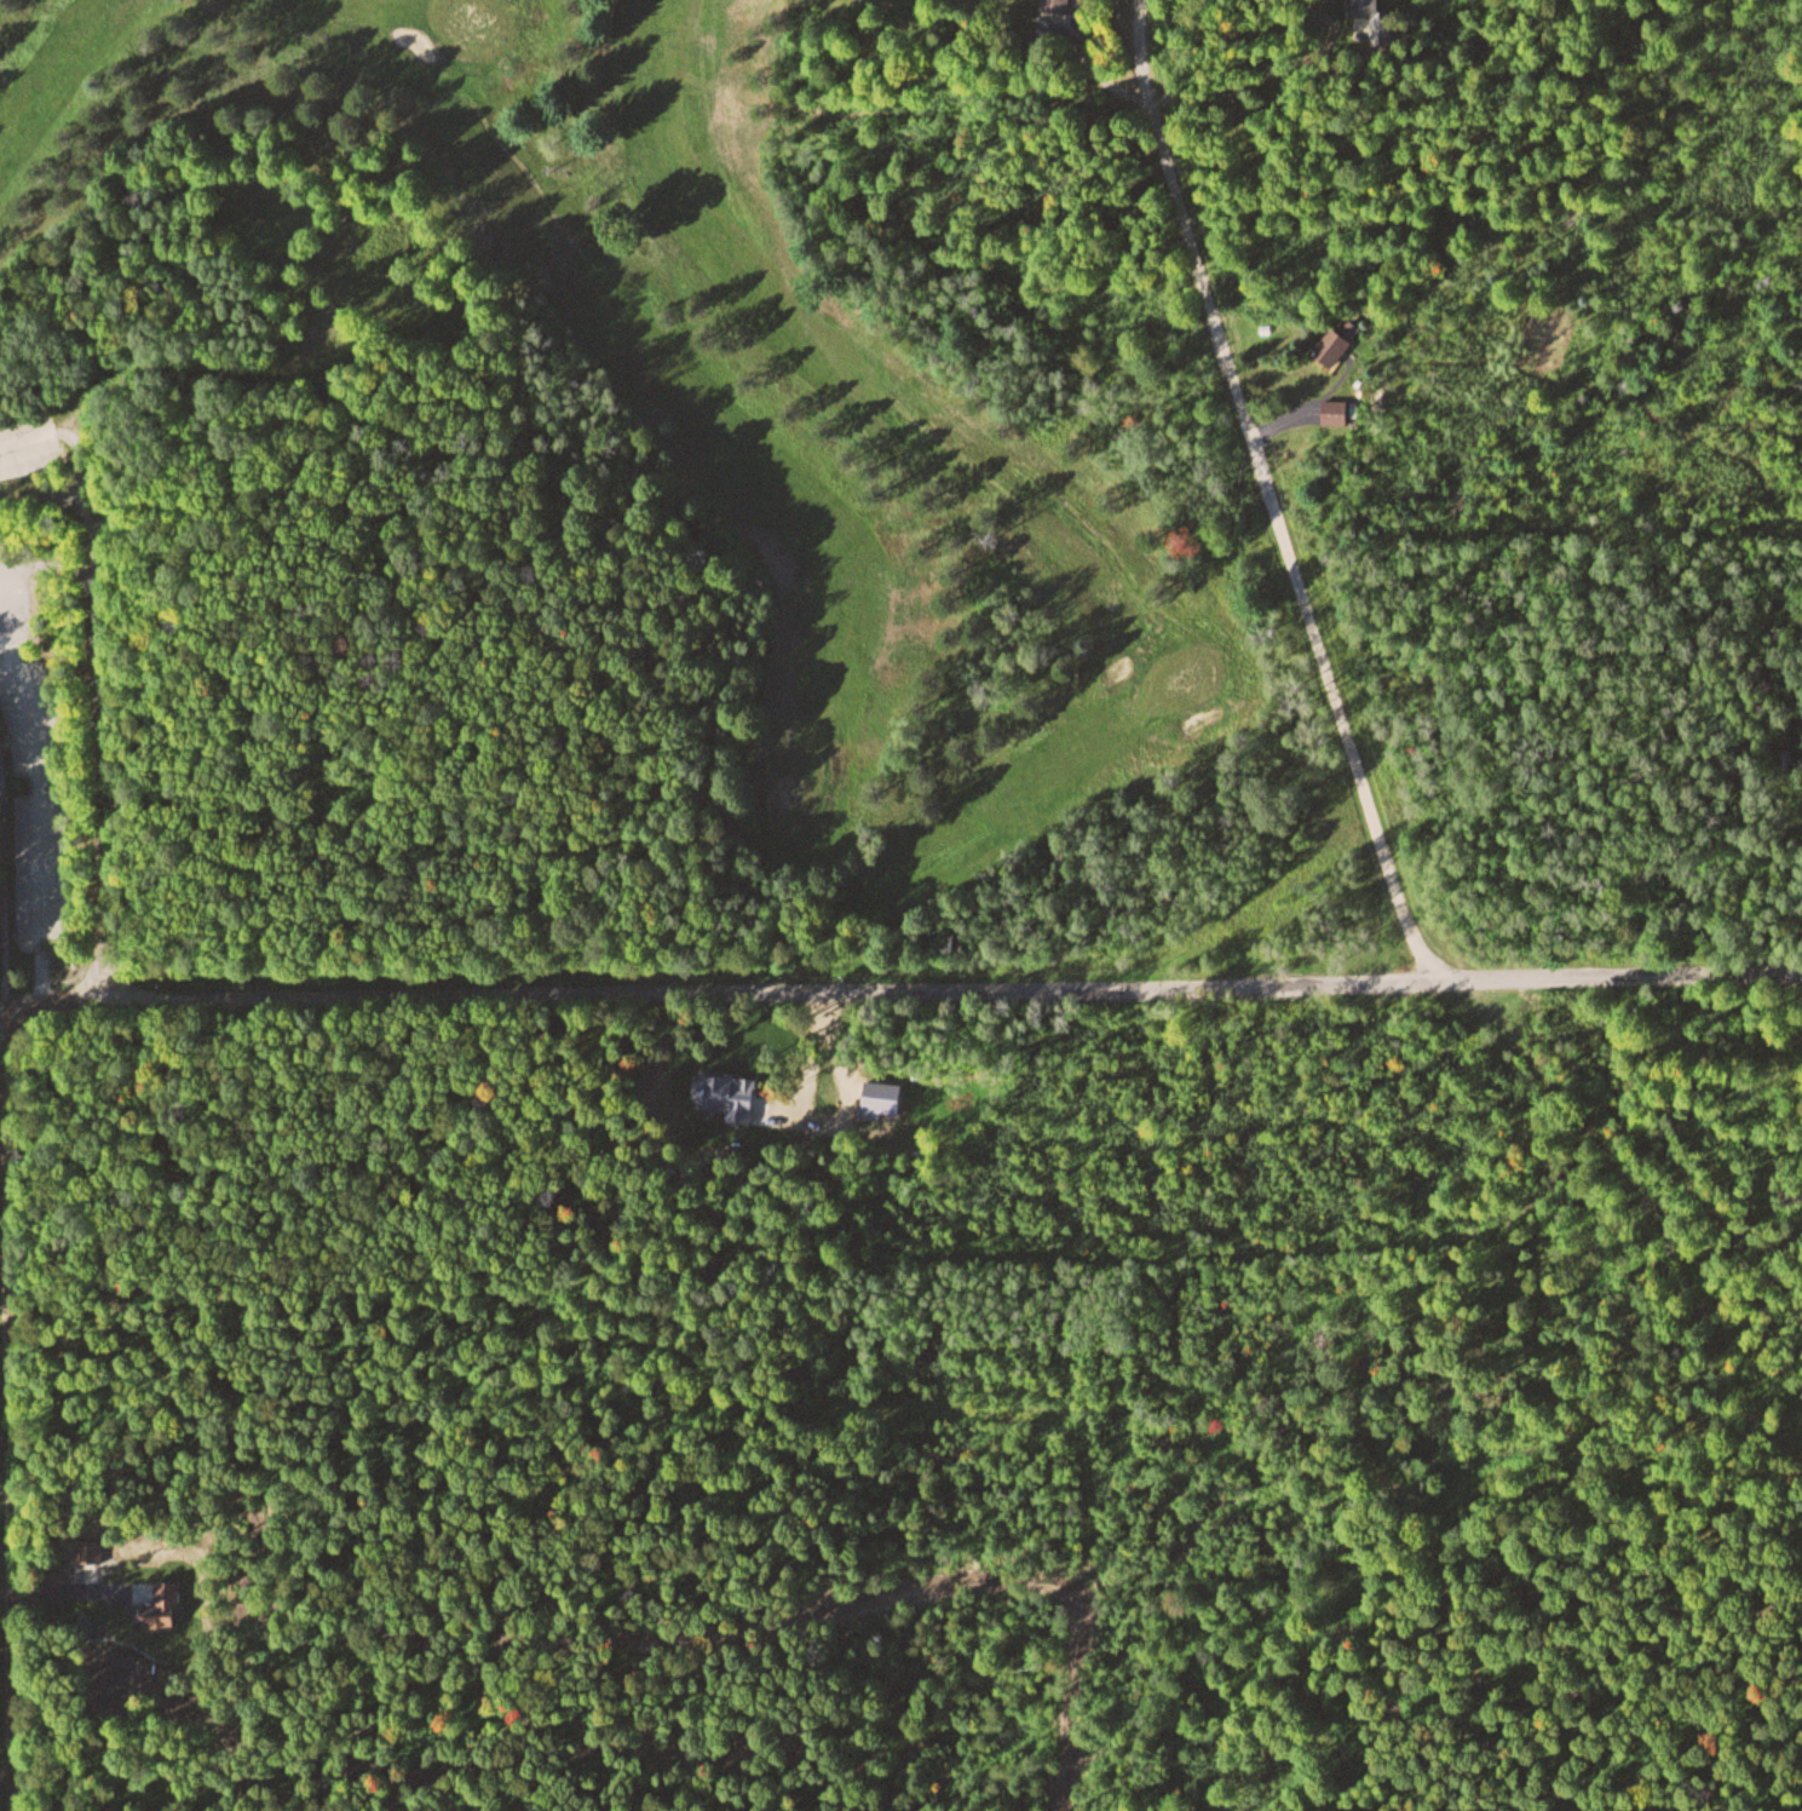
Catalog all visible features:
building: (1049, 5)
building: (1361, 5)
building: (1334, 341)
building: (1330, 412)
park: (663, 416)
road: (1272, 496)
road: (4, 611)
road: (4, 627)
road: (46, 811)
road: (932, 990)
road: (1640, 1203)
road: (6, 1385)
building: (177, 1609)
park: (132, 1804)

